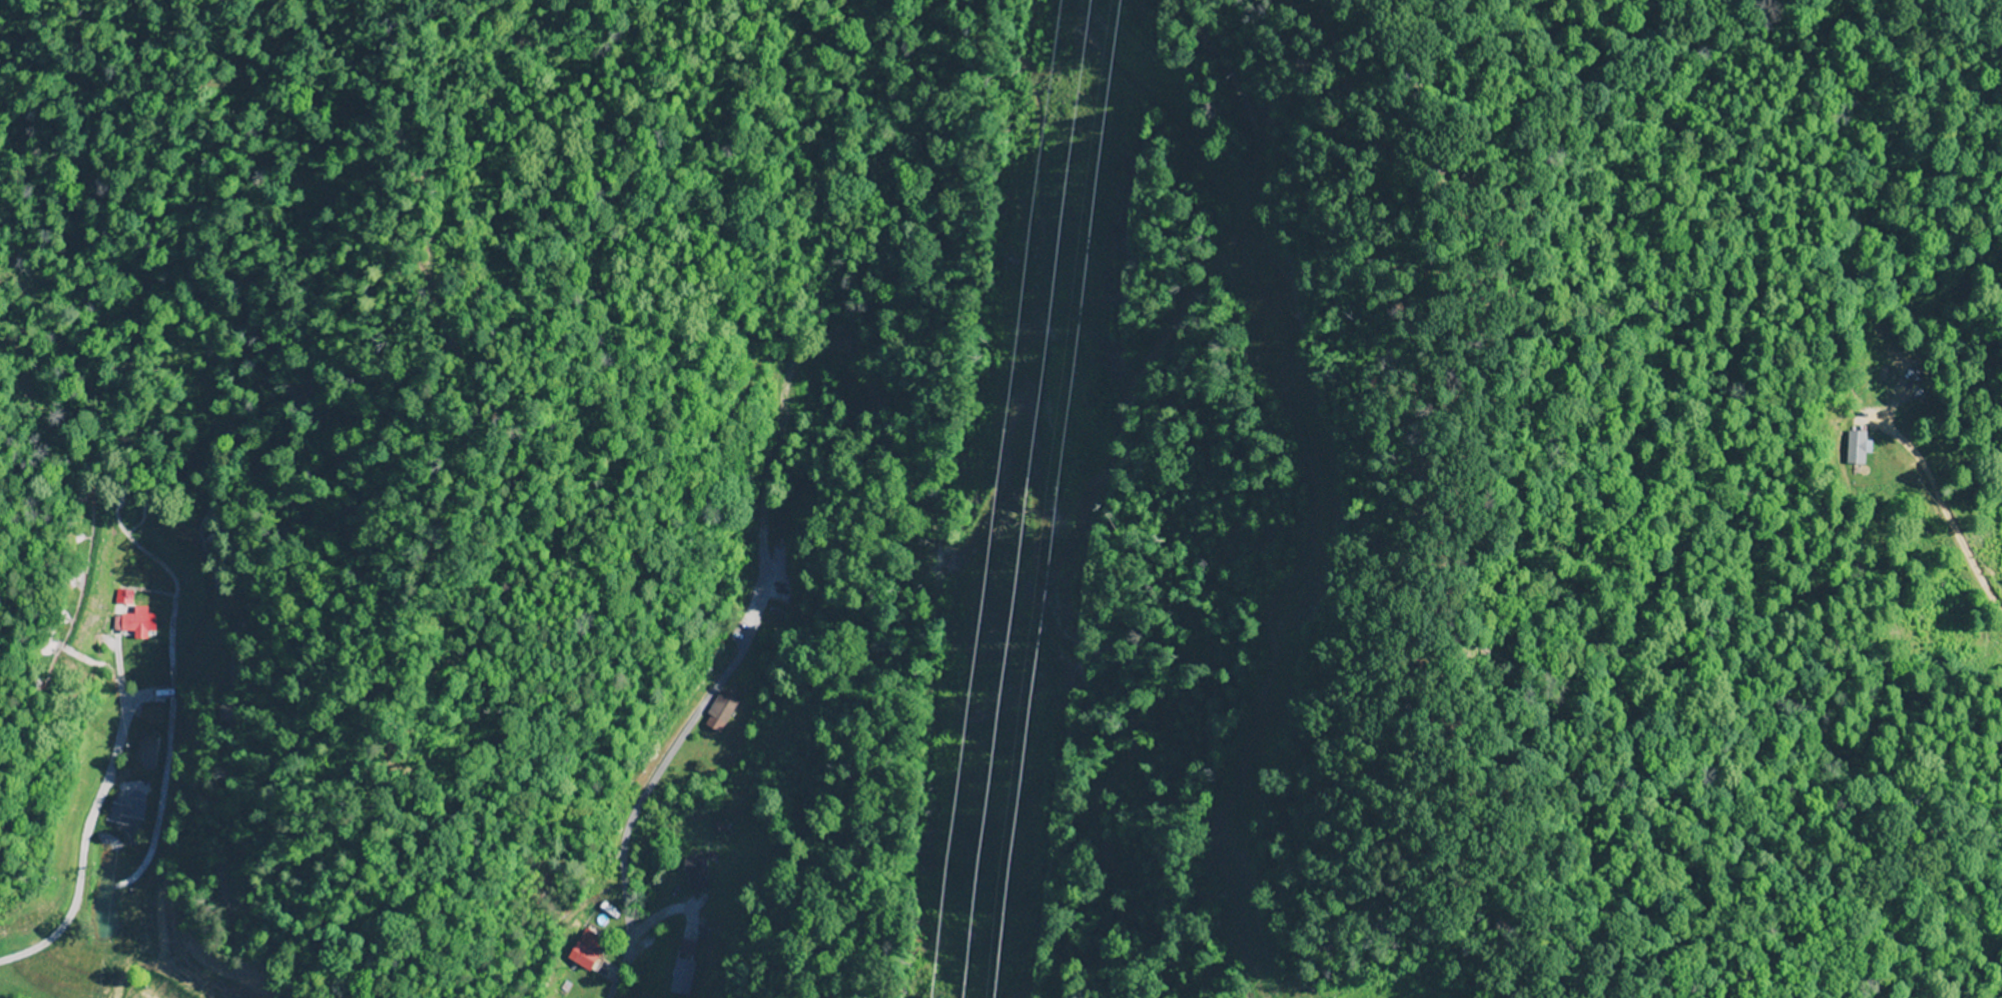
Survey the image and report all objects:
building: (1900, 388)
building: (1856, 447)
building: (137, 621)
building: (721, 708)
road: (638, 802)
building: (694, 873)
building: (584, 950)
building: (681, 978)

